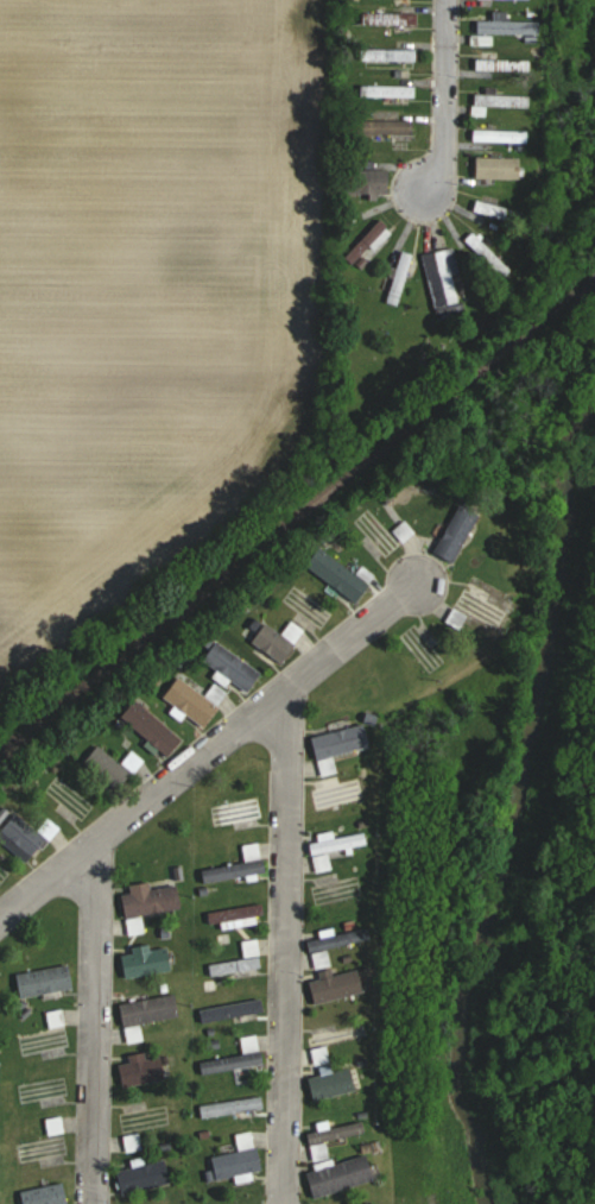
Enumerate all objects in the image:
building: (388, 18)
building: (507, 26)
building: (392, 52)
building: (502, 64)
building: (391, 90)
road: (445, 99)
building: (498, 100)
building: (384, 126)
building: (499, 135)
building: (496, 166)
building: (368, 181)
building: (495, 210)
building: (487, 253)
building: (399, 276)
building: (442, 280)
building: (381, 531)
building: (456, 531)
building: (337, 574)
building: (480, 610)
building: (277, 639)
building: (420, 647)
building: (232, 666)
building: (194, 700)
building: (151, 727)
building: (337, 744)
road: (210, 752)
building: (337, 793)
building: (239, 809)
building: (27, 833)
building: (333, 847)
building: (238, 864)
building: (147, 902)
building: (236, 915)
building: (334, 944)
road: (287, 945)
building: (240, 959)
building: (145, 960)
building: (44, 981)
building: (337, 983)
building: (232, 1009)
building: (145, 1013)
road: (96, 1020)
building: (333, 1036)
building: (236, 1055)
building: (141, 1069)
building: (331, 1082)
building: (40, 1089)
building: (233, 1107)
building: (331, 1136)
building: (238, 1156)
building: (340, 1174)
building: (143, 1175)
building: (44, 1194)
road: (93, 1200)

